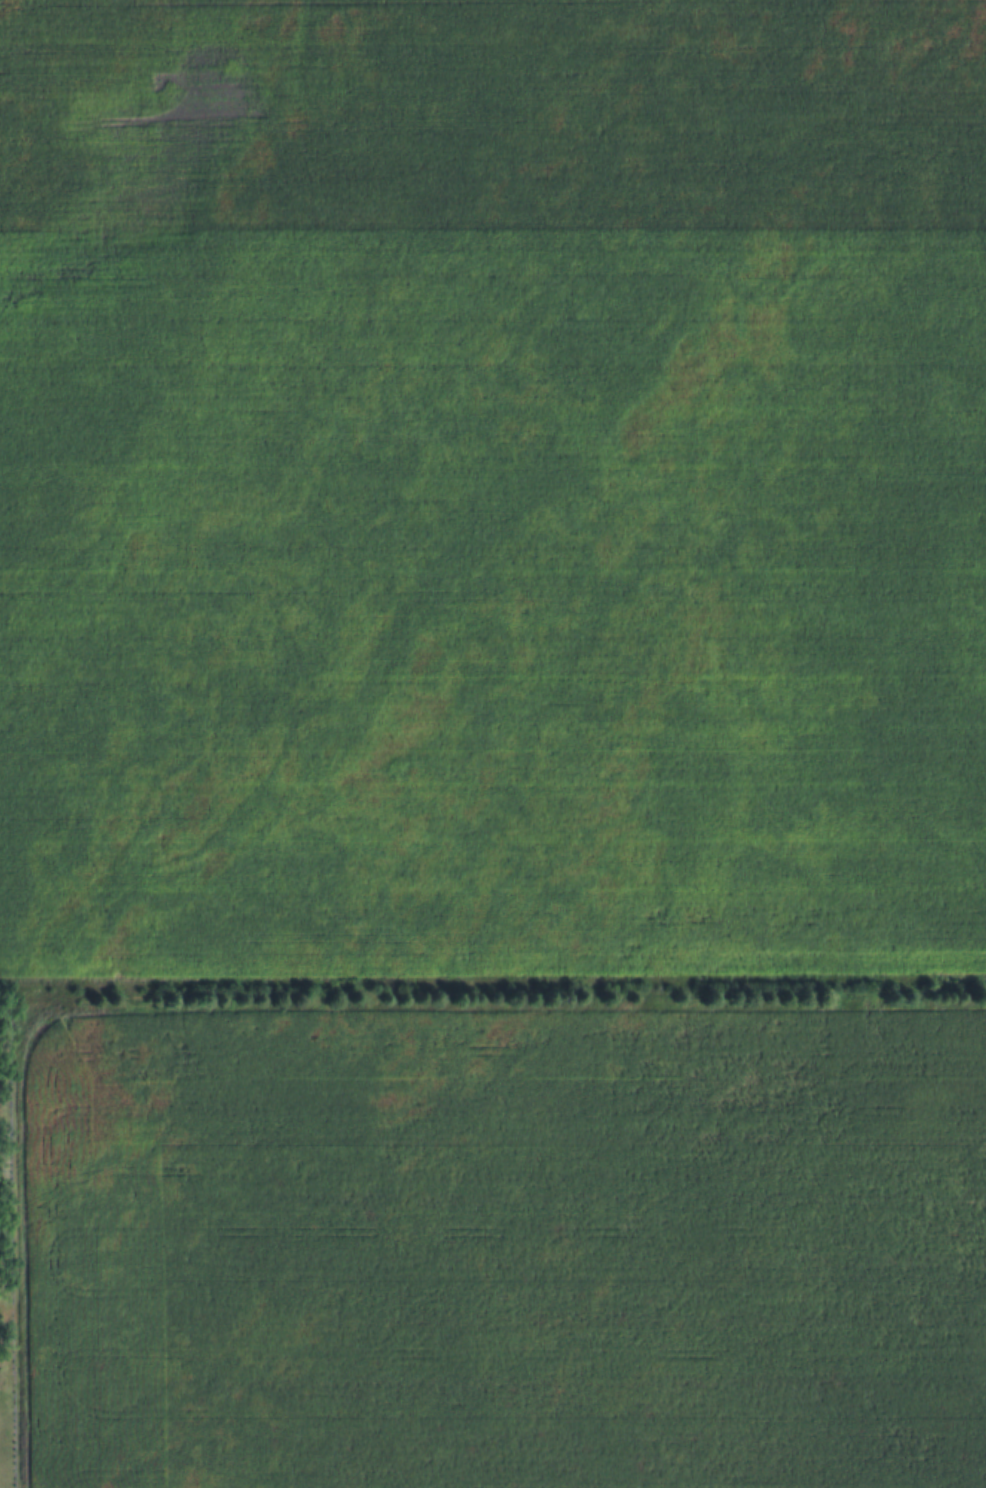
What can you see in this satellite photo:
road: (493, 992)

